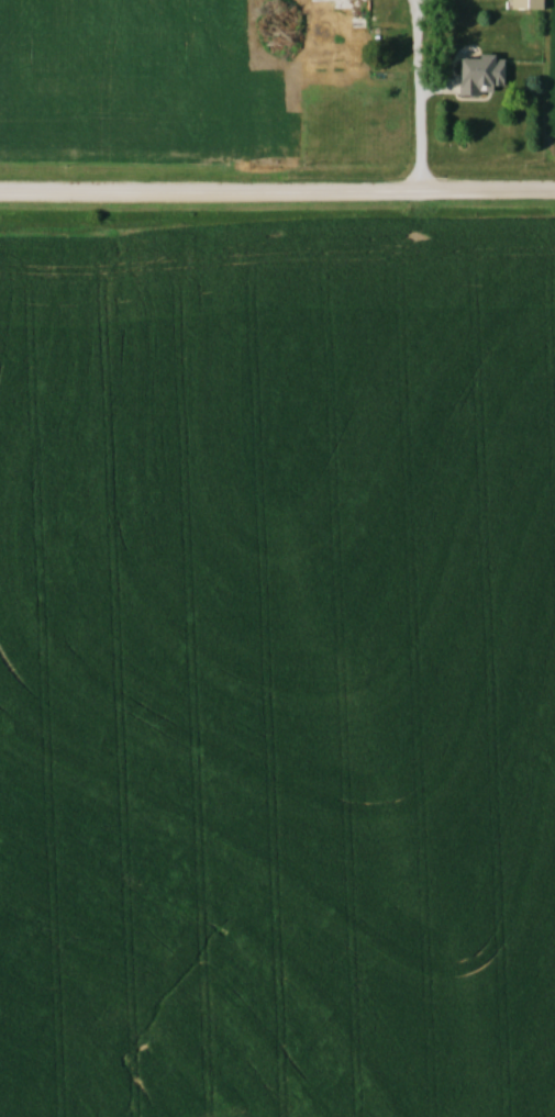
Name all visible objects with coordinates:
building: (523, 4)
building: (476, 74)
road: (415, 96)
road: (277, 196)

